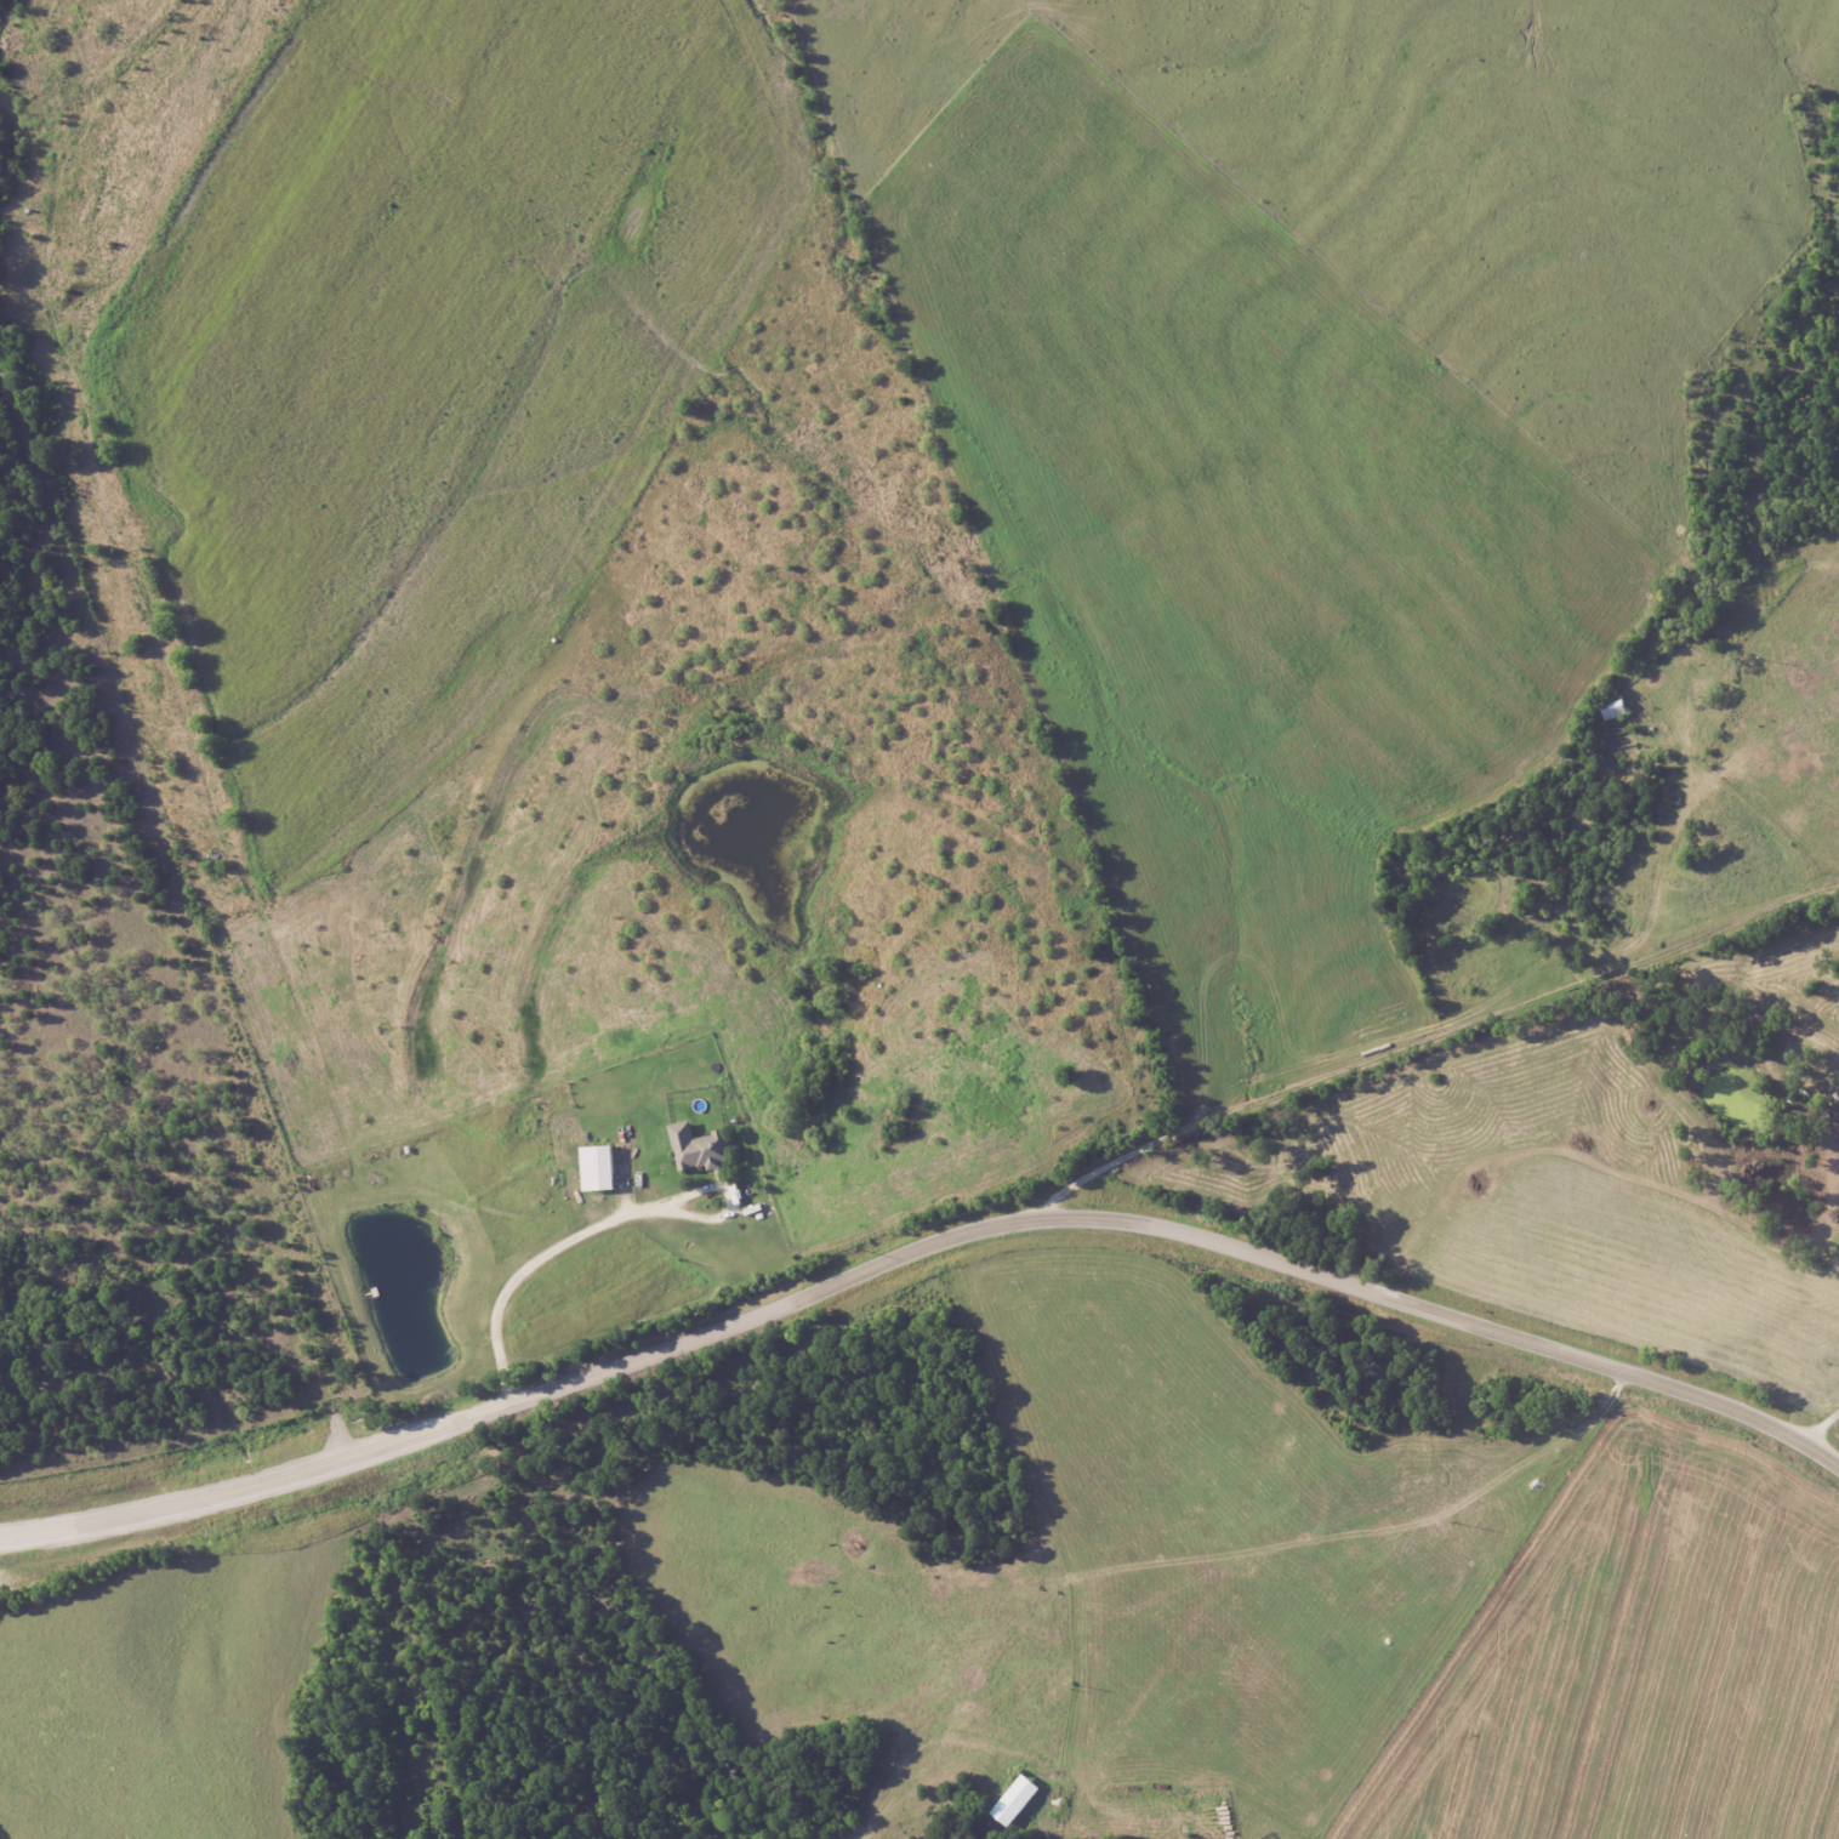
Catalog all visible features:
road: (1456, 1047)
building: (702, 1148)
building: (603, 1167)
road: (599, 1239)
road: (918, 1248)
road: (1826, 1430)
road: (1314, 1538)
road: (983, 1736)

